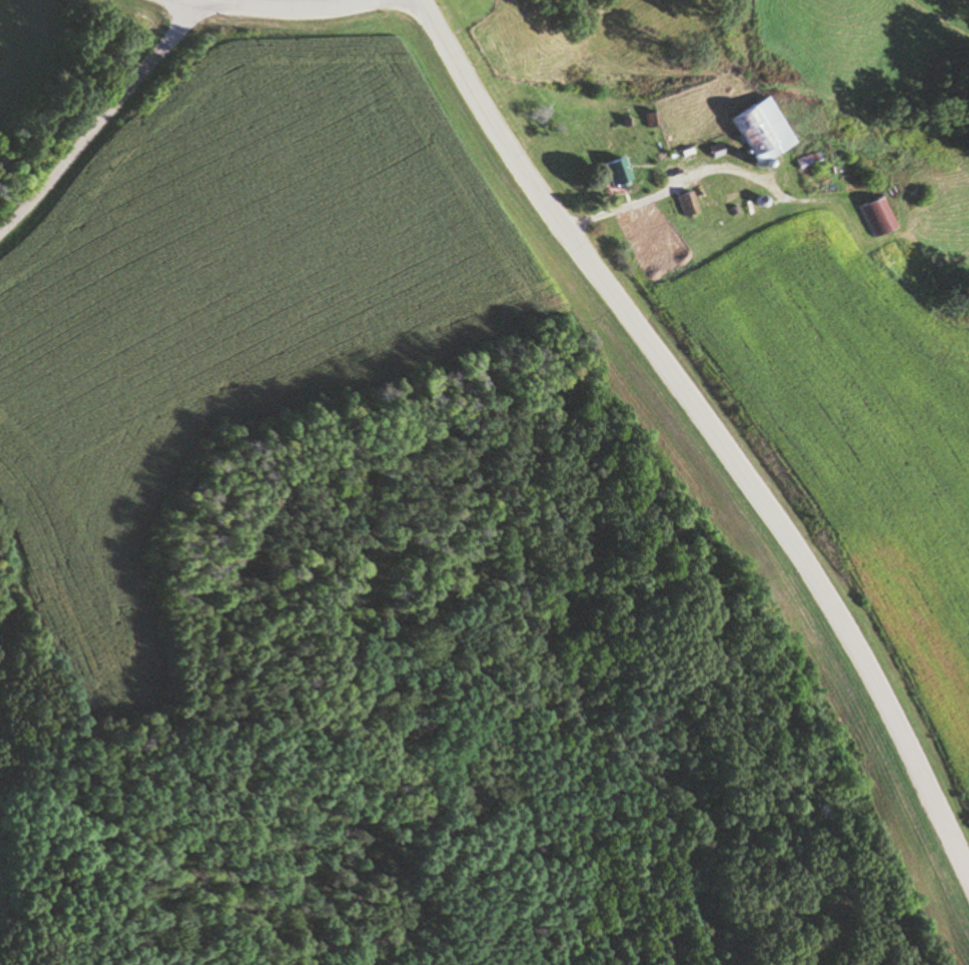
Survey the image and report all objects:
road: (272, 7)
road: (98, 119)
building: (758, 131)
building: (616, 172)
building: (686, 204)
building: (875, 217)
road: (710, 427)

